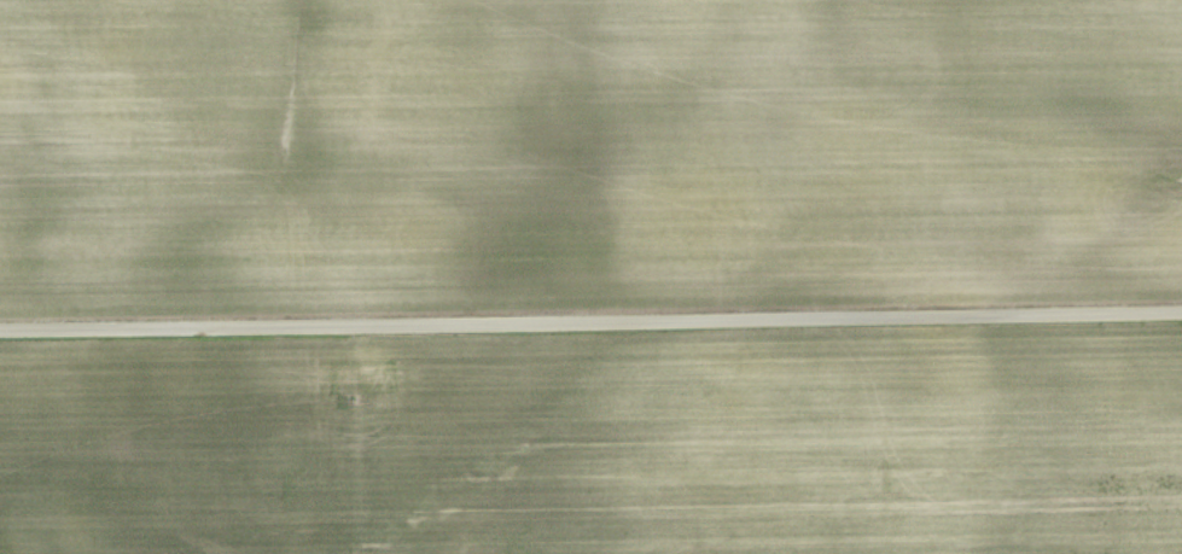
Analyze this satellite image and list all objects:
road: (590, 320)

